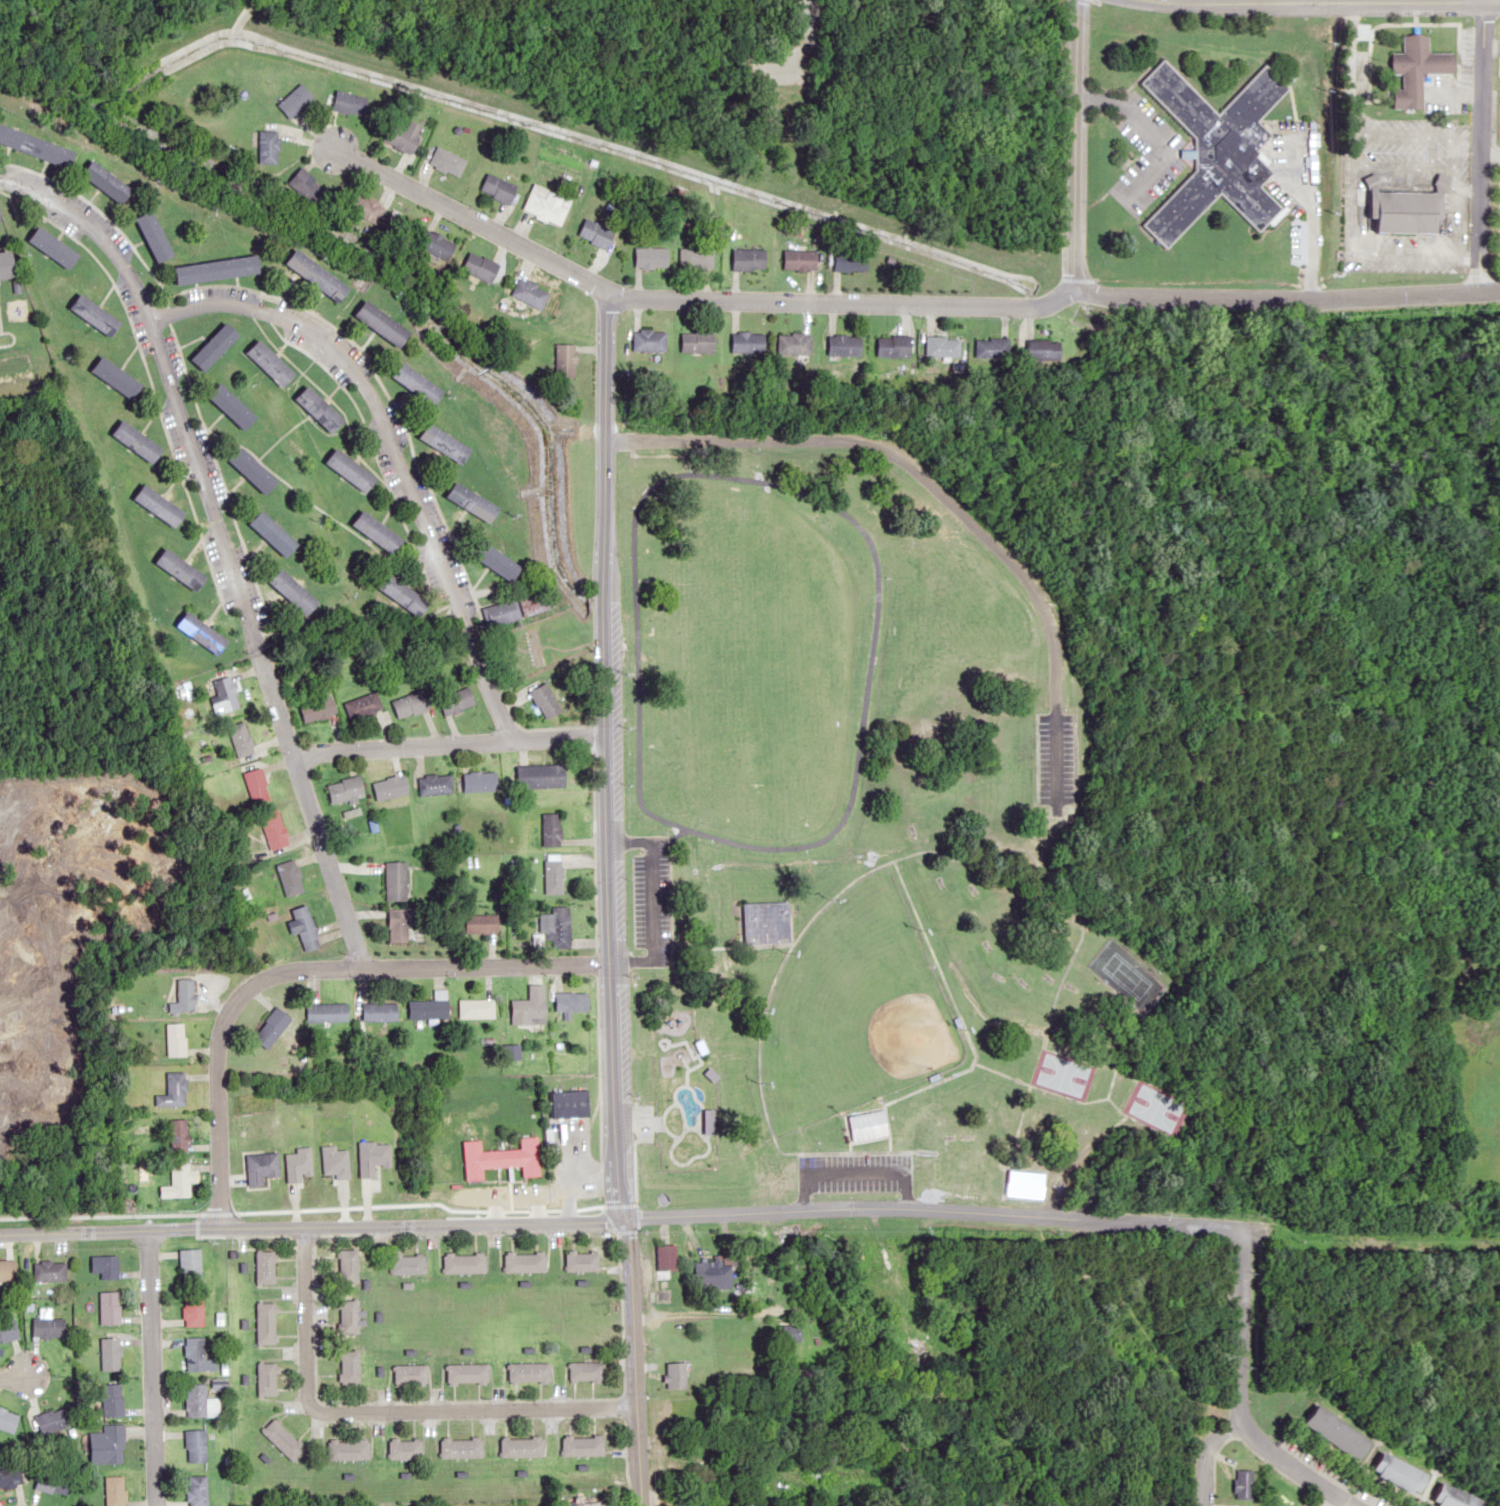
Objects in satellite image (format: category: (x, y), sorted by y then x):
road: (1251, 0)
road: (1353, 0)
building: (1416, 69)
building: (294, 100)
building: (348, 103)
building: (403, 135)
building: (36, 145)
building: (266, 146)
road: (1477, 146)
building: (1214, 150)
road: (1069, 154)
building: (446, 161)
building: (563, 173)
building: (108, 181)
building: (304, 185)
building: (497, 187)
building: (545, 204)
building: (363, 206)
building: (1403, 208)
building: (401, 228)
building: (596, 233)
building: (155, 236)
building: (434, 243)
building: (53, 247)
building: (650, 257)
building: (695, 258)
building: (748, 258)
building: (798, 259)
building: (849, 261)
building: (7, 266)
building: (479, 266)
building: (219, 269)
building: (318, 275)
building: (529, 292)
road: (895, 306)
building: (96, 314)
building: (383, 323)
building: (647, 340)
building: (696, 341)
building: (746, 342)
building: (791, 343)
building: (843, 345)
building: (216, 346)
building: (892, 346)
building: (940, 346)
building: (988, 347)
building: (1042, 349)
building: (564, 360)
building: (271, 362)
building: (117, 377)
building: (419, 384)
building: (234, 406)
building: (320, 409)
building: (137, 441)
building: (447, 443)
road: (390, 450)
building: (255, 470)
building: (351, 470)
road: (939, 495)
building: (475, 502)
building: (159, 505)
building: (379, 532)
building: (275, 533)
road: (219, 543)
building: (497, 560)
building: (181, 569)
building: (295, 592)
building: (405, 595)
building: (538, 602)
building: (502, 613)
building: (203, 633)
building: (523, 655)
building: (224, 696)
building: (456, 701)
building: (546, 701)
building: (405, 705)
building: (363, 706)
building: (317, 709)
building: (241, 739)
road: (445, 745)
building: (541, 776)
building: (479, 781)
building: (434, 784)
building: (256, 785)
building: (390, 787)
building: (345, 789)
park: (888, 826)
building: (551, 829)
building: (275, 831)
road: (776, 843)
building: (553, 874)
building: (290, 877)
building: (394, 880)
road: (605, 899)
building: (763, 921)
building: (481, 923)
building: (397, 925)
building: (304, 926)
building: (557, 926)
road: (298, 970)
park: (1120, 973)
building: (182, 996)
building: (571, 1001)
building: (430, 1006)
building: (530, 1007)
building: (475, 1008)
park: (853, 1008)
building: (379, 1011)
building: (327, 1012)
building: (271, 1027)
building: (173, 1039)
park: (1059, 1073)
building: (171, 1090)
building: (571, 1104)
building: (653, 1112)
building: (866, 1125)
building: (177, 1135)
building: (371, 1157)
building: (501, 1158)
building: (334, 1162)
building: (297, 1164)
building: (259, 1167)
building: (176, 1182)
building: (1025, 1184)
road: (1027, 1217)
road: (311, 1227)
building: (666, 1257)
building: (581, 1260)
building: (524, 1261)
building: (463, 1262)
building: (407, 1264)
building: (189, 1265)
building: (103, 1266)
building: (348, 1266)
building: (264, 1267)
building: (7, 1271)
building: (48, 1271)
building: (713, 1274)
building: (108, 1308)
building: (192, 1310)
road: (686, 1315)
building: (348, 1317)
building: (265, 1323)
building: (46, 1327)
building: (7, 1329)
building: (791, 1332)
building: (922, 1348)
building: (109, 1353)
building: (197, 1355)
building: (349, 1366)
road: (145, 1368)
building: (585, 1370)
building: (529, 1371)
building: (466, 1372)
building: (410, 1373)
building: (676, 1374)
road: (5, 1378)
building: (266, 1378)
building: (110, 1399)
building: (199, 1401)
road: (379, 1412)
building: (51, 1419)
building: (7, 1421)
building: (1338, 1431)
building: (282, 1439)
building: (582, 1444)
building: (107, 1445)
building: (194, 1445)
building: (521, 1446)
building: (460, 1447)
building: (403, 1448)
building: (346, 1449)
road: (1203, 1453)
road: (1296, 1465)
building: (1401, 1472)
building: (9, 1476)
building: (50, 1482)
building: (1242, 1484)
building: (112, 1490)
building: (195, 1490)
building: (1455, 1496)

